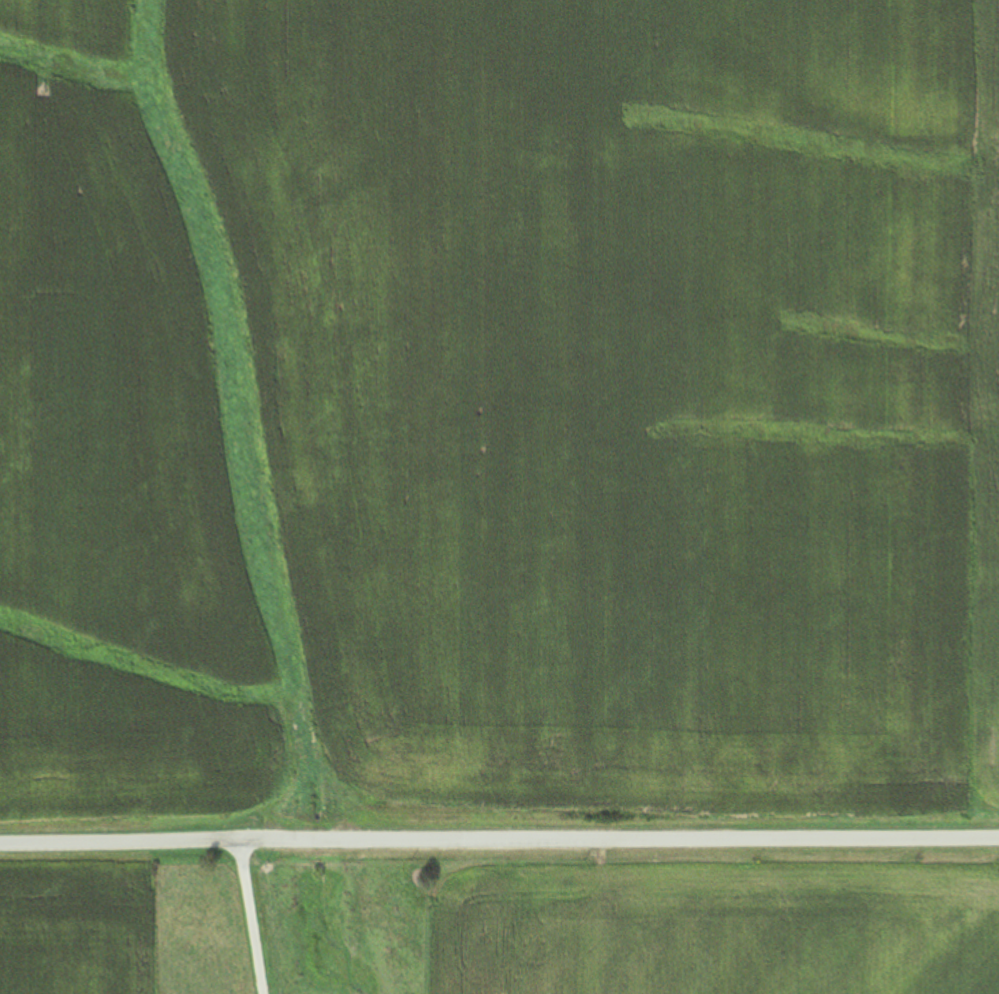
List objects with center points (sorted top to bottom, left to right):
road: (499, 838)
road: (273, 917)

